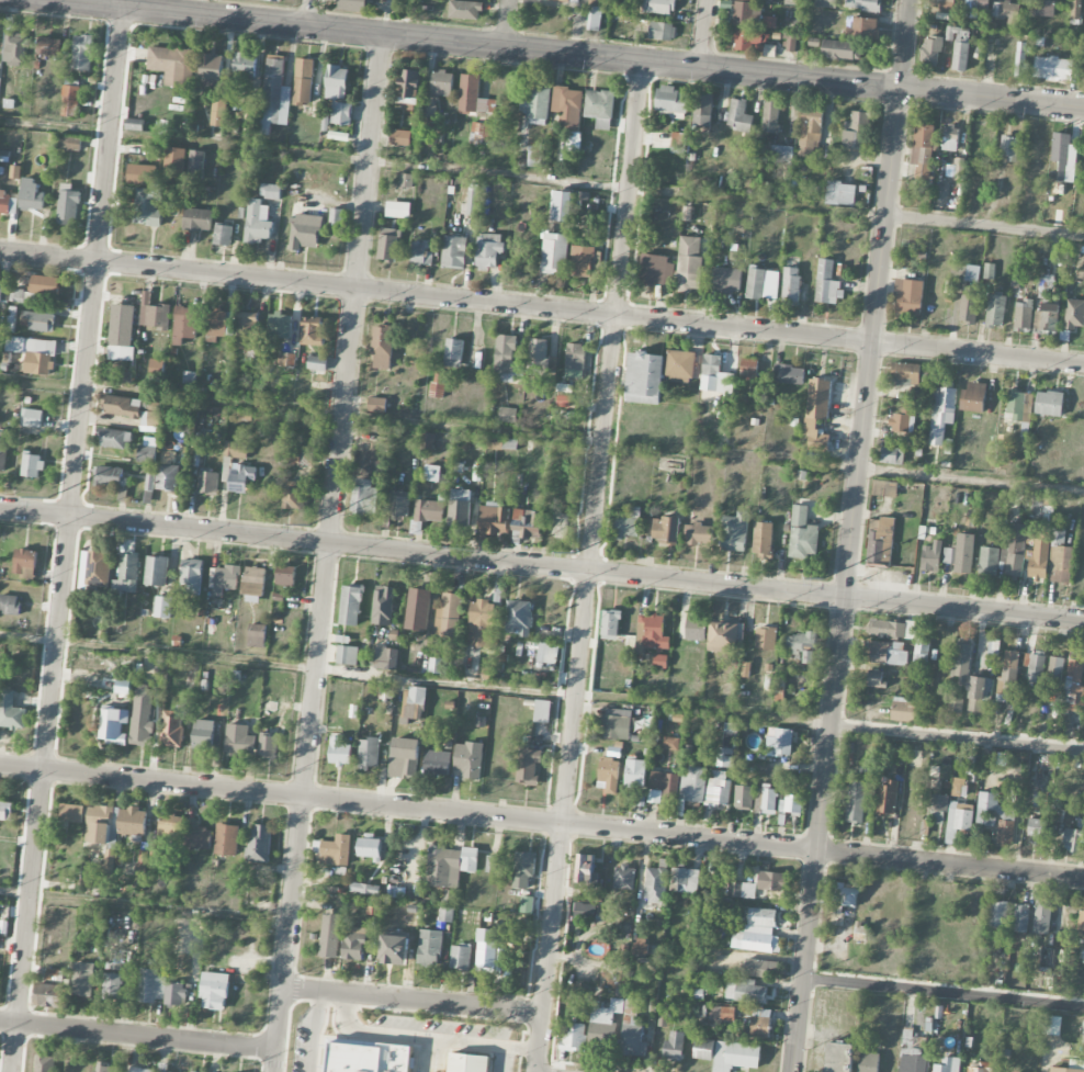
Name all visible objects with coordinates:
building: (269, 0)
building: (563, 0)
building: (750, 0)
road: (112, 3)
building: (942, 3)
building: (862, 4)
building: (352, 5)
building: (658, 7)
building: (975, 8)
building: (1043, 8)
road: (210, 9)
building: (464, 10)
building: (1075, 10)
building: (1006, 11)
road: (309, 14)
building: (594, 14)
building: (747, 14)
road: (407, 19)
building: (769, 23)
road: (507, 24)
building: (865, 27)
building: (662, 32)
road: (704, 34)
building: (748, 40)
road: (803, 40)
building: (790, 43)
building: (49, 47)
building: (14, 48)
building: (842, 50)
building: (961, 50)
building: (930, 52)
building: (82, 53)
road: (560, 55)
building: (1020, 60)
building: (172, 66)
building: (245, 66)
building: (1053, 69)
building: (210, 71)
building: (303, 82)
building: (337, 82)
building: (441, 83)
building: (409, 87)
building: (273, 95)
building: (473, 97)
building: (69, 101)
building: (671, 101)
building: (535, 104)
building: (567, 106)
building: (600, 109)
building: (702, 110)
building: (429, 112)
building: (218, 114)
building: (341, 114)
building: (738, 116)
building: (770, 116)
building: (135, 125)
building: (856, 131)
building: (481, 133)
building: (810, 133)
building: (399, 137)
building: (950, 138)
building: (572, 142)
building: (70, 143)
building: (1008, 148)
building: (153, 150)
building: (923, 150)
building: (781, 154)
building: (534, 157)
building: (1064, 157)
building: (195, 166)
road: (443, 170)
building: (15, 172)
building: (407, 182)
building: (270, 192)
building: (840, 193)
building: (31, 200)
building: (472, 200)
building: (8, 204)
building: (68, 205)
building: (149, 205)
building: (562, 206)
building: (398, 210)
building: (335, 217)
building: (197, 219)
building: (258, 223)
building: (305, 225)
road: (985, 227)
building: (223, 235)
building: (388, 245)
building: (488, 251)
building: (454, 252)
building: (421, 253)
building: (554, 253)
building: (583, 261)
building: (689, 263)
building: (840, 270)
building: (656, 271)
building: (989, 271)
building: (972, 273)
building: (726, 281)
building: (755, 284)
building: (827, 284)
building: (45, 285)
building: (791, 285)
building: (1, 294)
building: (16, 295)
building: (908, 296)
building: (969, 305)
road: (541, 308)
building: (995, 311)
building: (153, 313)
building: (1023, 315)
building: (1074, 315)
building: (1047, 320)
building: (38, 321)
building: (184, 324)
building: (218, 324)
building: (280, 326)
building: (247, 331)
building: (312, 331)
building: (121, 332)
building: (382, 348)
building: (453, 353)
building: (34, 354)
building: (540, 358)
building: (505, 359)
building: (285, 361)
building: (575, 361)
building: (316, 363)
building: (679, 365)
building: (157, 370)
building: (748, 370)
building: (910, 373)
building: (713, 375)
building: (788, 375)
building: (190, 377)
building: (644, 379)
road: (42, 384)
building: (437, 385)
building: (917, 394)
building: (973, 398)
building: (563, 402)
building: (1049, 404)
building: (376, 405)
building: (121, 406)
building: (1019, 407)
building: (817, 413)
building: (940, 414)
building: (508, 415)
building: (151, 417)
building: (32, 418)
building: (902, 421)
road: (473, 428)
building: (114, 439)
building: (427, 441)
building: (503, 444)
building: (197, 448)
building: (236, 450)
building: (2, 451)
building: (147, 451)
building: (892, 455)
building: (297, 456)
building: (32, 466)
building: (432, 473)
building: (108, 475)
building: (167, 478)
building: (240, 478)
road: (972, 481)
building: (207, 483)
building: (149, 488)
building: (884, 488)
building: (292, 496)
building: (364, 497)
power tower: (49, 500)
building: (398, 505)
building: (460, 508)
road: (331, 512)
building: (426, 514)
building: (495, 521)
building: (626, 523)
power tower: (309, 524)
building: (527, 524)
building: (665, 530)
building: (735, 532)
building: (698, 534)
building: (802, 535)
road: (852, 535)
building: (1058, 537)
road: (594, 538)
road: (66, 540)
building: (763, 540)
building: (880, 541)
power tower: (574, 553)
building: (961, 554)
building: (1027, 558)
building: (930, 560)
building: (989, 561)
building: (25, 563)
building: (1060, 565)
road: (542, 567)
building: (99, 568)
building: (156, 572)
building: (127, 575)
building: (285, 575)
building: (191, 576)
building: (224, 578)
power tower: (823, 578)
building: (253, 585)
building: (10, 605)
building: (350, 606)
building: (383, 606)
building: (162, 607)
building: (417, 610)
building: (449, 616)
building: (519, 618)
building: (479, 624)
building: (610, 625)
building: (696, 629)
building: (887, 629)
building: (911, 630)
building: (651, 633)
building: (257, 635)
building: (723, 637)
building: (765, 639)
building: (802, 646)
building: (993, 648)
building: (884, 653)
building: (921, 653)
building: (547, 654)
building: (347, 655)
building: (385, 659)
building: (960, 659)
building: (659, 662)
building: (436, 665)
building: (1035, 666)
building: (1054, 670)
building: (1008, 676)
building: (1074, 677)
road: (415, 679)
building: (874, 679)
building: (124, 688)
building: (779, 688)
building: (979, 692)
building: (414, 703)
building: (955, 706)
building: (904, 710)
building: (542, 711)
building: (11, 712)
building: (617, 724)
building: (113, 725)
building: (143, 729)
building: (172, 732)
building: (203, 735)
road: (957, 737)
building: (239, 741)
building: (782, 743)
building: (670, 744)
building: (268, 746)
building: (727, 748)
building: (340, 752)
building: (369, 753)
building: (405, 758)
building: (468, 760)
building: (437, 764)
building: (968, 764)
building: (528, 765)
building: (609, 774)
building: (634, 774)
building: (693, 786)
building: (662, 787)
building: (958, 787)
building: (718, 792)
building: (743, 798)
building: (887, 799)
building: (1040, 800)
building: (765, 802)
building: (856, 802)
building: (790, 808)
building: (938, 809)
building: (5, 811)
building: (71, 814)
building: (995, 817)
building: (957, 821)
building: (133, 822)
road: (541, 823)
building: (99, 825)
building: (170, 826)
building: (1037, 828)
building: (196, 836)
building: (226, 839)
building: (1073, 839)
building: (259, 844)
building: (369, 847)
building: (336, 851)
building: (450, 866)
building: (523, 869)
building: (587, 870)
building: (624, 878)
building: (674, 881)
building: (688, 881)
building: (772, 882)
building: (656, 883)
building: (364, 889)
building: (742, 890)
building: (845, 895)
building: (527, 905)
road: (145, 907)
building: (587, 912)
building: (445, 915)
building: (997, 915)
building: (1041, 916)
building: (1020, 918)
building: (1081, 922)
building: (757, 933)
building: (860, 933)
building: (329, 936)
building: (353, 944)
building: (641, 947)
building: (430, 948)
building: (394, 950)
building: (487, 950)
building: (461, 957)
building: (178, 959)
building: (760, 969)
building: (83, 980)
building: (112, 986)
building: (150, 986)
building: (214, 991)
building: (745, 992)
road: (944, 992)
building: (176, 993)
building: (48, 996)
road: (413, 1001)
building: (722, 1015)
building: (663, 1017)
road: (281, 1019)
building: (757, 1024)
building: (1051, 1026)
building: (631, 1028)
road: (313, 1031)
road: (138, 1035)
road: (411, 1037)
building: (574, 1037)
road: (540, 1042)
building: (674, 1047)
road: (524, 1049)
building: (703, 1049)
building: (735, 1057)
building: (369, 1058)
building: (839, 1058)
building: (914, 1058)
road: (275, 1060)
road: (508, 1060)
building: (869, 1062)
building: (44, 1063)
building: (467, 1063)
building: (948, 1065)
building: (103, 1068)
building: (163, 1068)
building: (137, 1070)
building: (978, 1070)
building: (1065, 1070)

